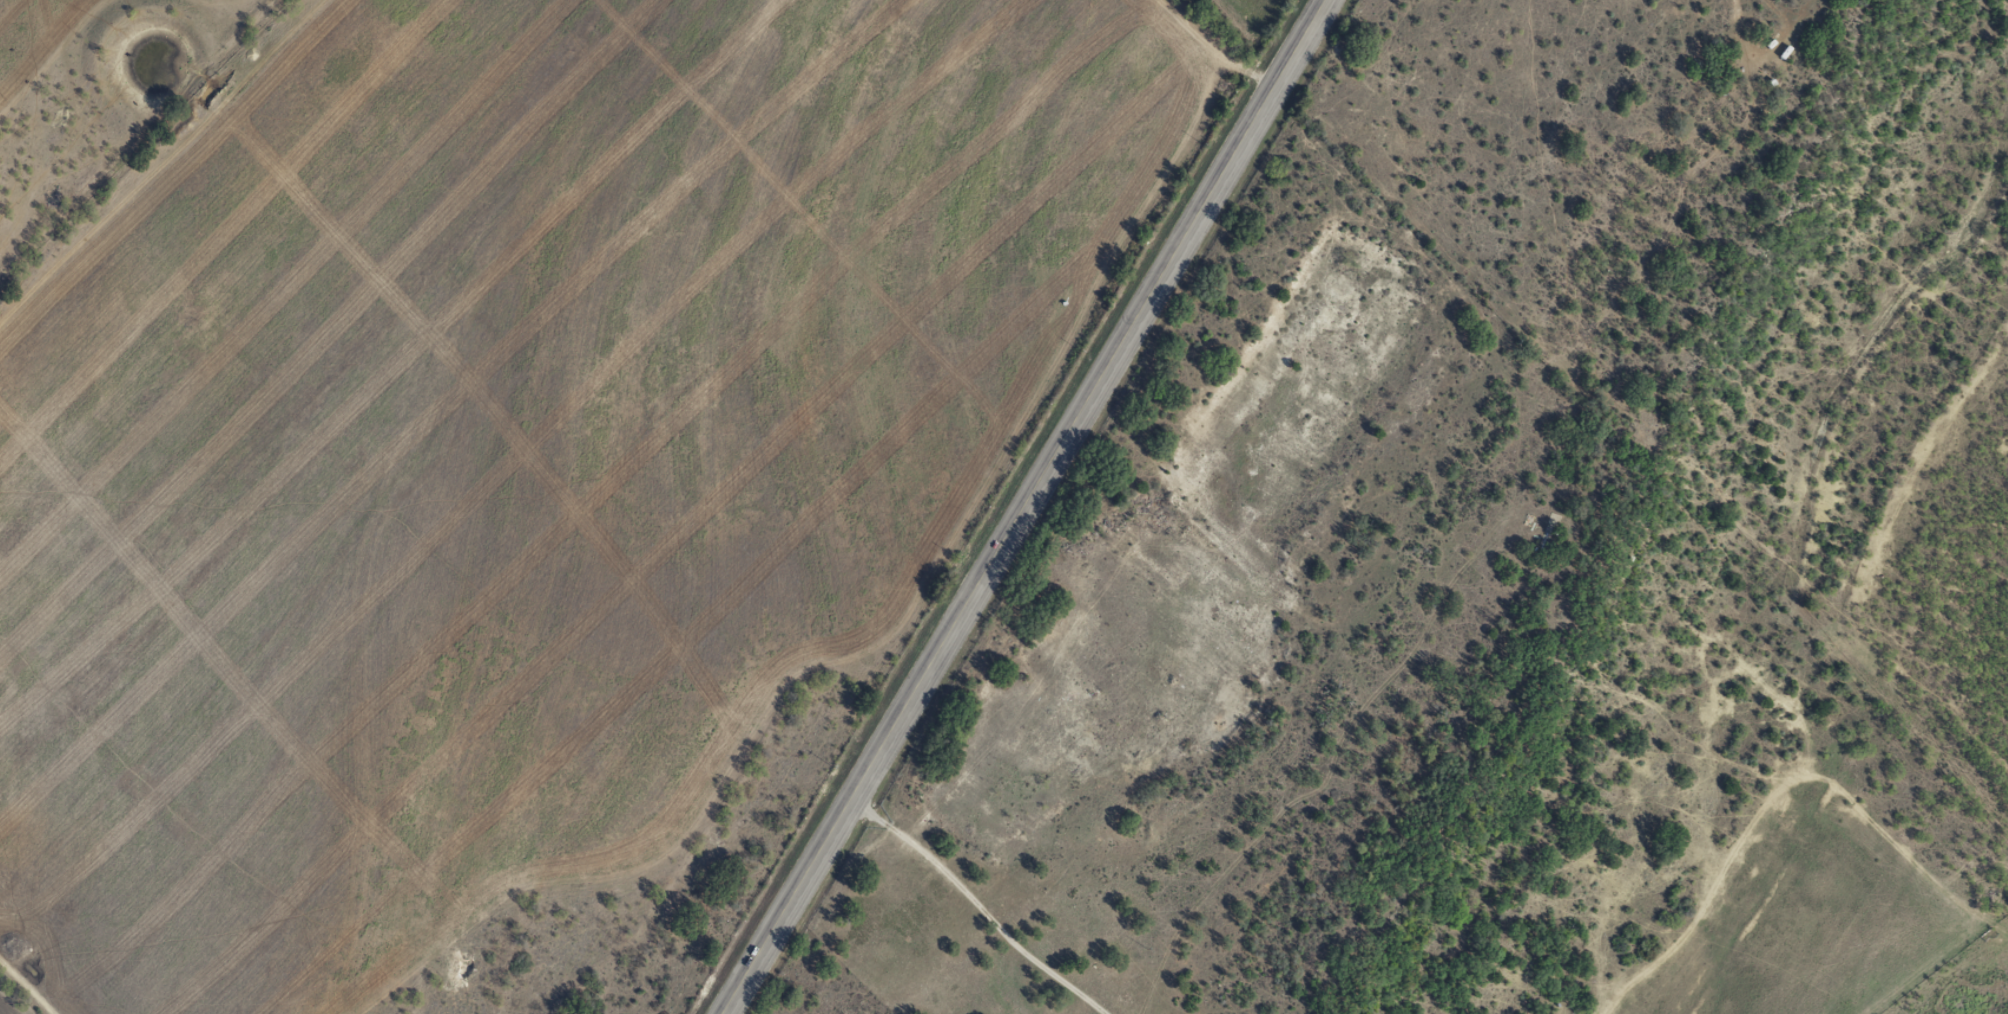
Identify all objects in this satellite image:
crop: (230, 2)
crop: (34, 34)
crop: (511, 446)
road: (1023, 506)
road: (1699, 849)
road: (951, 912)
crop: (6, 1007)

